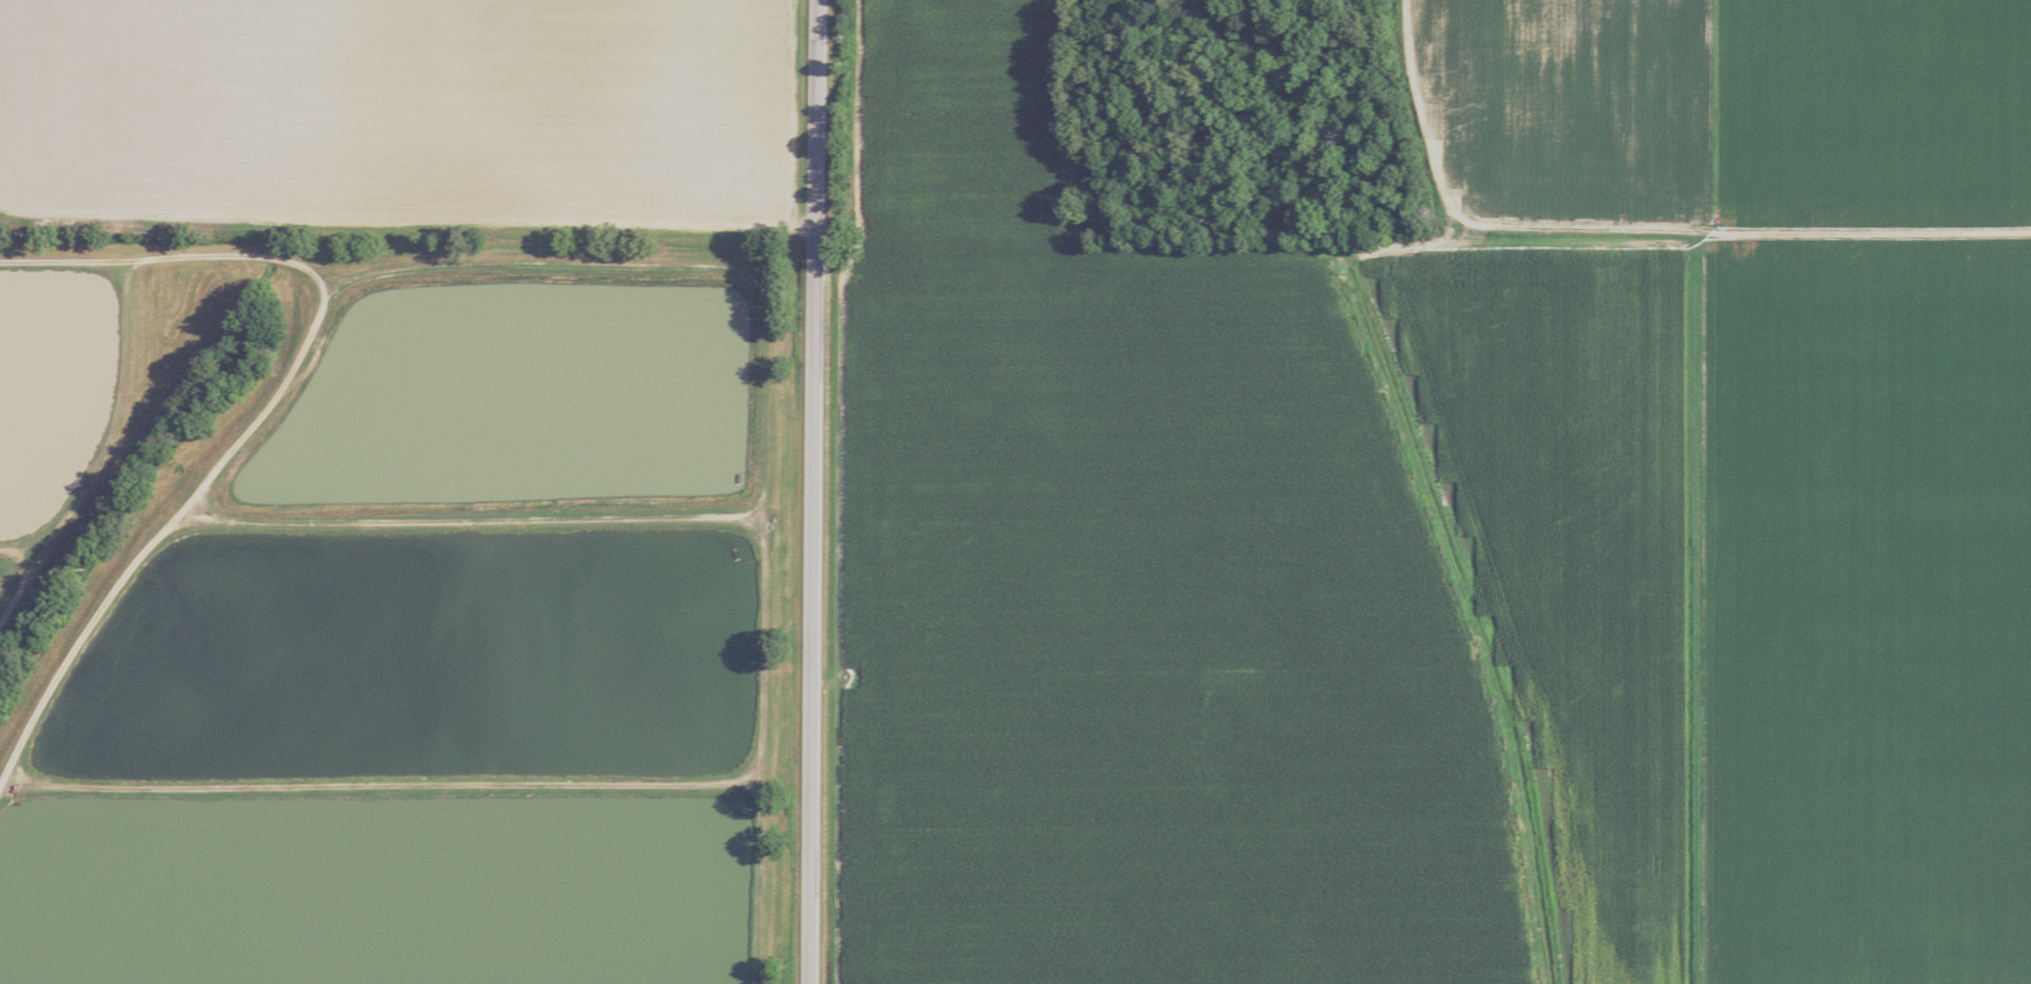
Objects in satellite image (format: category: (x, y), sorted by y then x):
road: (810, 491)

